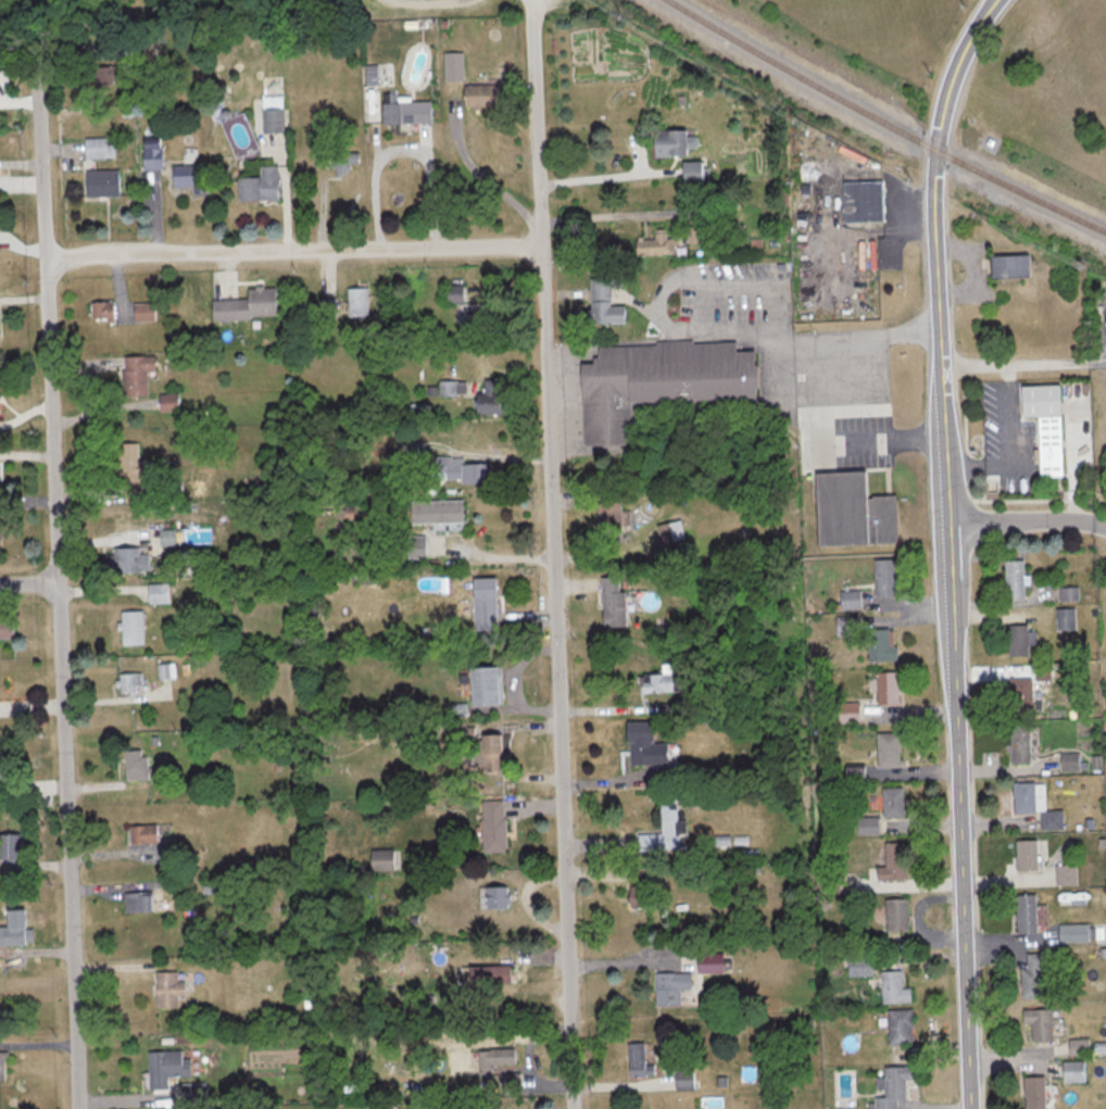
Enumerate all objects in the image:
building: (110, 74)
building: (485, 94)
building: (410, 111)
building: (275, 113)
railway: (885, 121)
building: (678, 141)
building: (101, 148)
road: (402, 150)
building: (155, 154)
building: (697, 169)
building: (193, 177)
road: (603, 177)
building: (105, 182)
building: (263, 185)
building: (860, 201)
road: (603, 216)
building: (657, 244)
road: (293, 253)
building: (1007, 266)
building: (456, 293)
building: (360, 302)
building: (606, 303)
building: (251, 305)
building: (329, 306)
building: (105, 312)
building: (147, 312)
building: (486, 317)
building: (1104, 323)
building: (0, 331)
road: (803, 341)
road: (1090, 362)
road: (1008, 365)
road: (1013, 370)
building: (139, 374)
building: (657, 382)
building: (450, 389)
building: (494, 398)
building: (172, 401)
building: (1043, 424)
road: (1009, 437)
road: (844, 441)
building: (136, 470)
road: (963, 470)
building: (475, 472)
building: (440, 511)
building: (851, 511)
building: (606, 520)
road: (1028, 522)
building: (169, 537)
building: (668, 538)
building: (418, 546)
road: (951, 546)
building: (131, 558)
road: (556, 563)
building: (882, 578)
building: (1013, 579)
road: (27, 581)
road: (55, 587)
building: (160, 592)
building: (849, 600)
building: (489, 603)
building: (609, 603)
building: (846, 626)
building: (8, 627)
building: (134, 628)
building: (1018, 640)
building: (879, 645)
building: (131, 682)
building: (655, 683)
building: (489, 686)
building: (885, 689)
building: (1020, 692)
building: (1018, 743)
building: (638, 744)
building: (887, 751)
building: (492, 753)
building: (138, 765)
building: (3, 772)
building: (891, 802)
building: (1033, 803)
building: (497, 824)
building: (865, 824)
building: (663, 830)
building: (146, 834)
building: (12, 855)
building: (1025, 855)
building: (385, 859)
building: (890, 862)
building: (1065, 874)
building: (637, 894)
building: (497, 897)
building: (141, 902)
building: (1025, 913)
building: (894, 915)
building: (20, 928)
building: (707, 962)
building: (857, 966)
building: (493, 974)
building: (1031, 976)
building: (669, 987)
building: (892, 988)
building: (172, 990)
building: (1038, 1024)
building: (898, 1026)
building: (499, 1058)
building: (638, 1061)
building: (174, 1066)
building: (1071, 1071)
building: (682, 1079)
building: (892, 1086)
building: (1033, 1093)

